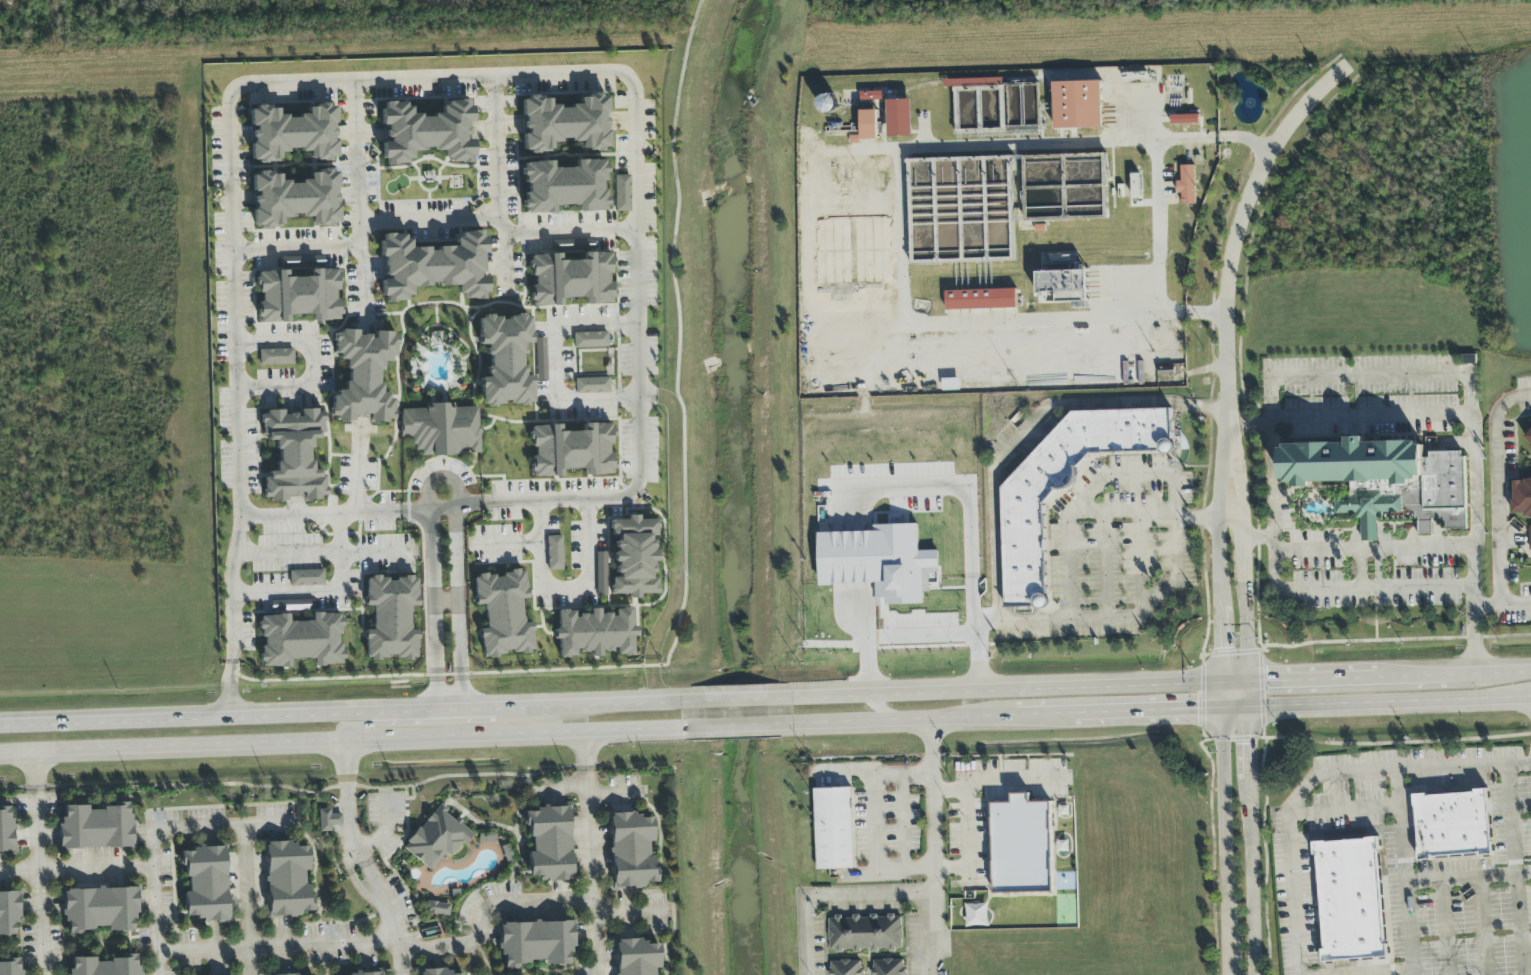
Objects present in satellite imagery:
park: (468, 15)
road: (413, 80)
building: (871, 96)
building: (1078, 105)
building: (900, 118)
building: (1184, 120)
building: (564, 123)
building: (869, 125)
building: (426, 132)
building: (292, 133)
road: (497, 151)
road: (897, 172)
building: (564, 186)
building: (1187, 186)
building: (622, 193)
building: (294, 199)
road: (361, 207)
road: (499, 225)
road: (297, 249)
road: (1231, 252)
road: (1161, 253)
road: (504, 261)
building: (433, 266)
building: (570, 278)
building: (1065, 287)
building: (298, 295)
building: (980, 300)
road: (595, 325)
building: (590, 340)
building: (276, 357)
building: (541, 359)
building: (504, 360)
road: (311, 363)
road: (1316, 375)
building: (362, 376)
building: (592, 385)
building: (950, 385)
road: (560, 400)
road: (1347, 417)
building: (441, 429)
road: (1032, 433)
building: (571, 450)
building: (293, 454)
road: (357, 466)
building: (1522, 480)
building: (1384, 481)
road: (431, 482)
building: (1065, 487)
road: (1497, 489)
road: (1225, 498)
road: (334, 514)
road: (1126, 514)
road: (1201, 518)
road: (1176, 524)
road: (1369, 533)
building: (1528, 533)
road: (1257, 539)
road: (504, 543)
road: (540, 544)
road: (685, 549)
road: (1373, 550)
road: (378, 553)
building: (554, 553)
road: (286, 554)
road: (1216, 554)
building: (633, 557)
road: (1139, 560)
building: (878, 562)
road: (588, 567)
road: (1103, 567)
road: (1361, 569)
road: (1380, 569)
building: (601, 574)
building: (306, 578)
road: (324, 592)
road: (1381, 593)
road: (1244, 594)
road: (436, 604)
road: (456, 604)
road: (1502, 605)
building: (503, 614)
building: (391, 618)
building: (595, 633)
road: (930, 636)
building: (300, 640)
road: (1389, 640)
road: (866, 648)
traffic signals: (1223, 648)
road: (1223, 649)
road: (977, 657)
road: (1490, 671)
road: (1415, 674)
road: (1316, 676)
road: (1238, 677)
traffic signals: (1266, 677)
road: (1011, 688)
road: (1251, 691)
road: (738, 699)
road: (1449, 700)
road: (451, 703)
road: (633, 703)
road: (1309, 704)
road: (1237, 706)
road: (520, 708)
traffic signals: (1194, 708)
road: (1111, 711)
road: (226, 715)
road: (901, 721)
road: (399, 724)
road: (742, 725)
road: (567, 731)
road: (401, 740)
road: (1391, 743)
traffic signals: (1252, 744)
road: (1252, 745)
road: (174, 746)
road: (871, 772)
road: (1319, 776)
road: (569, 788)
road: (948, 790)
road: (965, 791)
road: (612, 794)
road: (352, 805)
road: (36, 811)
road: (1344, 812)
building: (328, 820)
road: (876, 823)
road: (904, 823)
road: (266, 824)
building: (1452, 825)
building: (95, 827)
building: (833, 829)
road: (1225, 829)
building: (6, 832)
road: (388, 835)
building: (437, 837)
road: (243, 839)
building: (548, 843)
building: (1021, 846)
road: (933, 848)
building: (630, 850)
road: (590, 852)
road: (154, 863)
road: (1523, 863)
road: (19, 869)
road: (1516, 870)
road: (1405, 873)
road: (888, 875)
road: (1468, 878)
building: (287, 879)
road: (1254, 881)
building: (205, 884)
road: (832, 896)
building: (1350, 900)
building: (99, 909)
building: (437, 909)
road: (626, 913)
building: (8, 914)
road: (394, 916)
building: (977, 916)
road: (41, 922)
road: (1484, 926)
road: (1445, 928)
building: (865, 934)
road: (392, 941)
building: (534, 943)
building: (637, 957)
road: (1227, 963)
building: (104, 966)
building: (11, 967)
building: (888, 967)
building: (846, 968)
building: (442, 972)
road: (1379, 972)
road: (1392, 973)
building: (365, 974)

